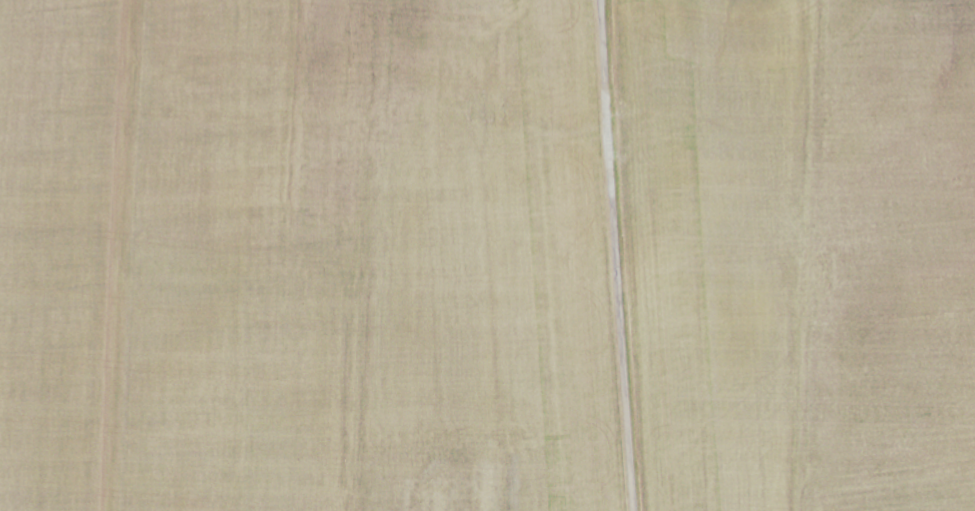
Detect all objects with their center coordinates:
road: (617, 255)

